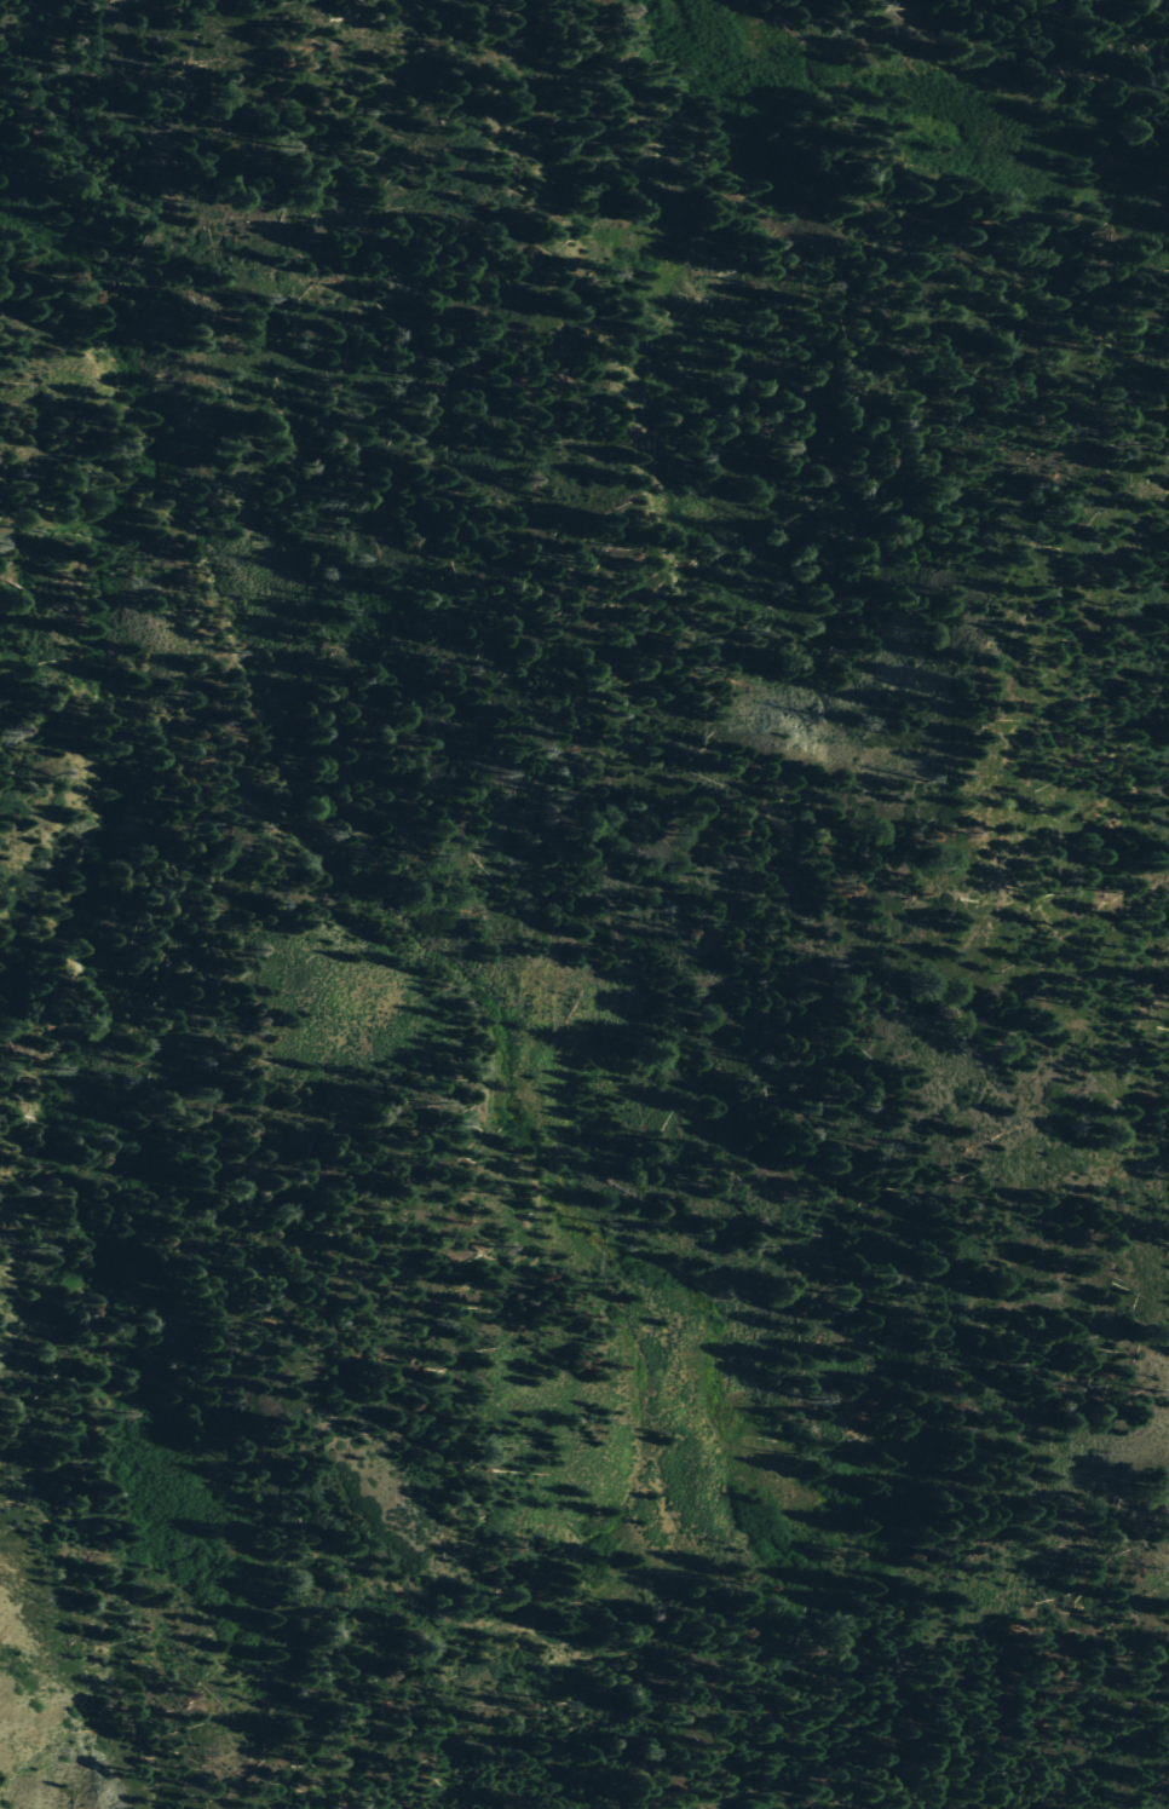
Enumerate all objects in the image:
road: (823, 1778)

